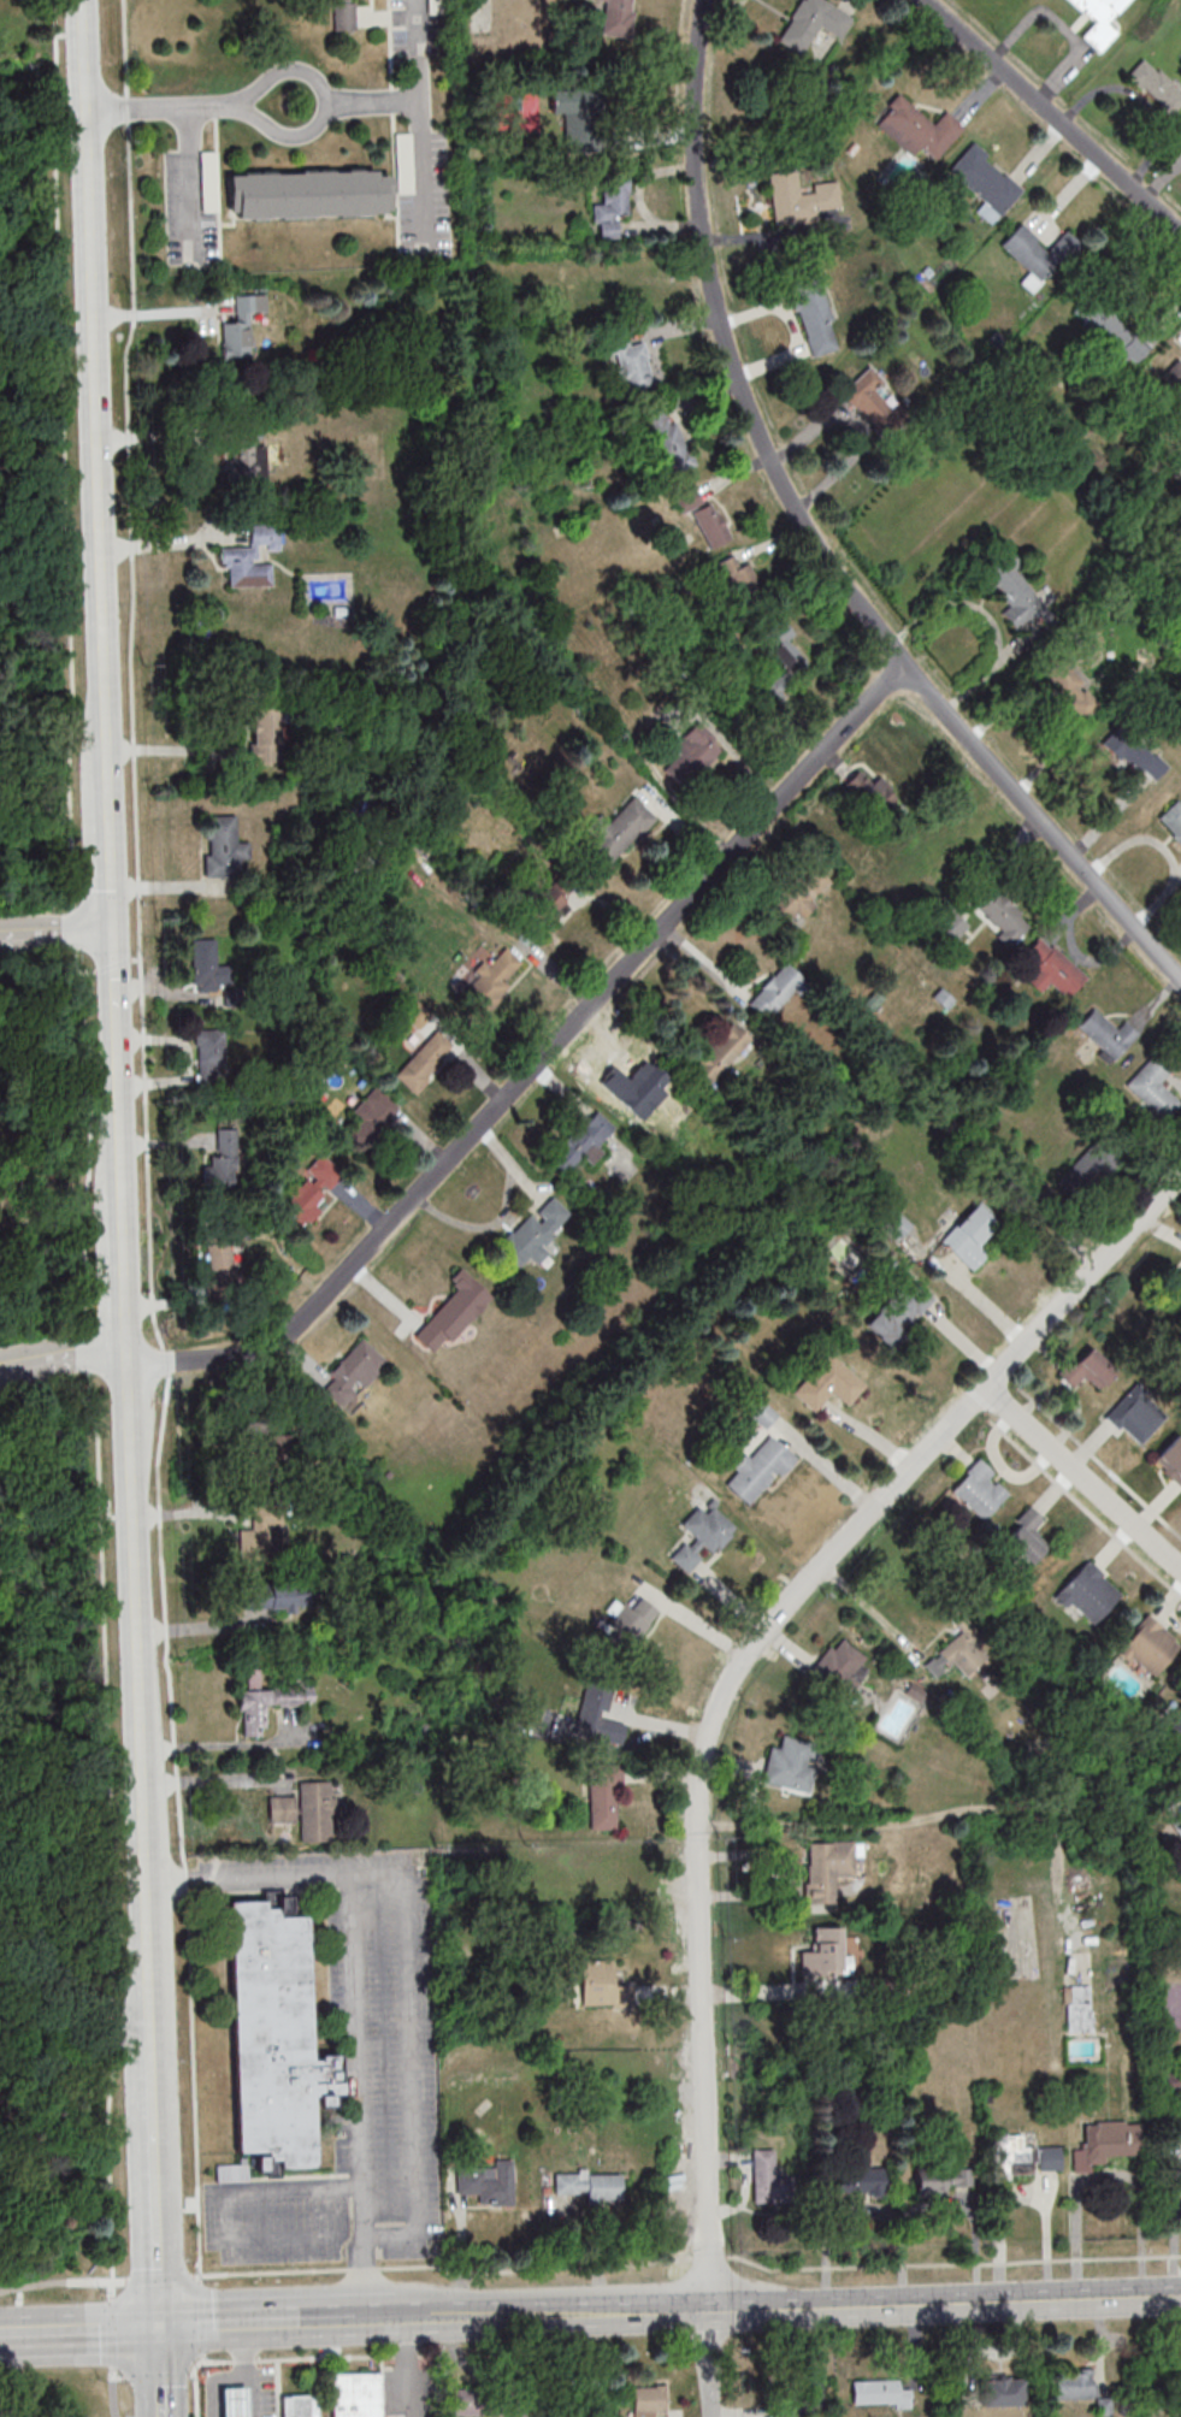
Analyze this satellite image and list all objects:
building: (342, 14)
building: (616, 17)
building: (1099, 20)
building: (813, 23)
building: (1155, 90)
road: (370, 106)
road: (170, 110)
road: (1053, 116)
road: (414, 117)
road: (258, 119)
building: (916, 128)
building: (982, 179)
building: (208, 181)
road: (188, 183)
building: (306, 191)
building: (799, 199)
building: (612, 207)
building: (1037, 249)
building: (592, 303)
road: (157, 312)
building: (810, 312)
building: (240, 326)
building: (1105, 326)
building: (630, 364)
building: (1175, 378)
road: (96, 389)
building: (874, 401)
building: (668, 441)
building: (247, 461)
building: (703, 516)
road: (165, 542)
road: (820, 543)
building: (253, 557)
building: (738, 578)
building: (1012, 595)
building: (783, 664)
building: (1070, 687)
building: (265, 735)
building: (1136, 752)
building: (692, 754)
building: (870, 792)
building: (1173, 820)
building: (614, 835)
building: (223, 845)
road: (112, 853)
building: (799, 893)
building: (553, 898)
building: (1002, 915)
building: (950, 927)
traffic signals: (114, 928)
road: (57, 930)
building: (205, 963)
building: (1052, 969)
building: (492, 979)
building: (776, 992)
building: (1106, 1034)
building: (212, 1051)
building: (721, 1052)
road: (118, 1054)
road: (542, 1057)
building: (425, 1060)
building: (1153, 1087)
building: (634, 1088)
building: (371, 1118)
building: (583, 1142)
building: (228, 1157)
building: (1088, 1169)
building: (40, 1186)
building: (311, 1190)
road: (61, 1218)
building: (896, 1223)
building: (969, 1234)
building: (531, 1239)
building: (219, 1260)
road: (125, 1263)
building: (1177, 1277)
road: (1083, 1281)
building: (632, 1310)
building: (453, 1312)
building: (899, 1312)
road: (64, 1354)
building: (1087, 1367)
building: (354, 1372)
building: (827, 1383)
building: (1142, 1413)
building: (763, 1416)
building: (266, 1450)
building: (1171, 1459)
building: (760, 1470)
road: (1083, 1477)
building: (980, 1489)
building: (1026, 1535)
building: (703, 1536)
building: (260, 1540)
building: (1088, 1592)
building: (261, 1597)
road: (870, 1613)
building: (630, 1619)
building: (1150, 1647)
building: (959, 1654)
building: (838, 1671)
road: (140, 1692)
building: (266, 1702)
building: (597, 1716)
building: (1174, 1727)
building: (789, 1766)
road: (213, 1780)
building: (603, 1797)
road: (702, 1798)
building: (282, 1809)
building: (315, 1812)
building: (1176, 1825)
building: (831, 1868)
building: (825, 1952)
building: (601, 1985)
road: (355, 1997)
building: (1077, 2008)
building: (274, 2037)
road: (409, 2052)
road: (153, 2069)
road: (153, 2109)
building: (1106, 2145)
building: (1023, 2156)
building: (231, 2171)
road: (1106, 2174)
building: (769, 2180)
building: (939, 2181)
building: (488, 2182)
building: (852, 2182)
building: (590, 2185)
road: (228, 2197)
road: (155, 2223)
road: (58, 2281)
road: (944, 2303)
road: (601, 2315)
road: (465, 2318)
road: (401, 2320)
road: (331, 2321)
road: (225, 2323)
traffic signals: (158, 2326)
road: (78, 2328)
road: (111, 2348)
road: (288, 2358)
road: (708, 2364)
road: (158, 2370)
road: (153, 2377)
road: (241, 2377)
building: (1075, 2385)
building: (1177, 2385)
building: (876, 2392)
building: (1002, 2392)
building: (355, 2394)
road: (250, 2397)
building: (801, 2398)
building: (648, 2401)
building: (232, 2403)
building: (466, 2403)
building: (296, 2406)

